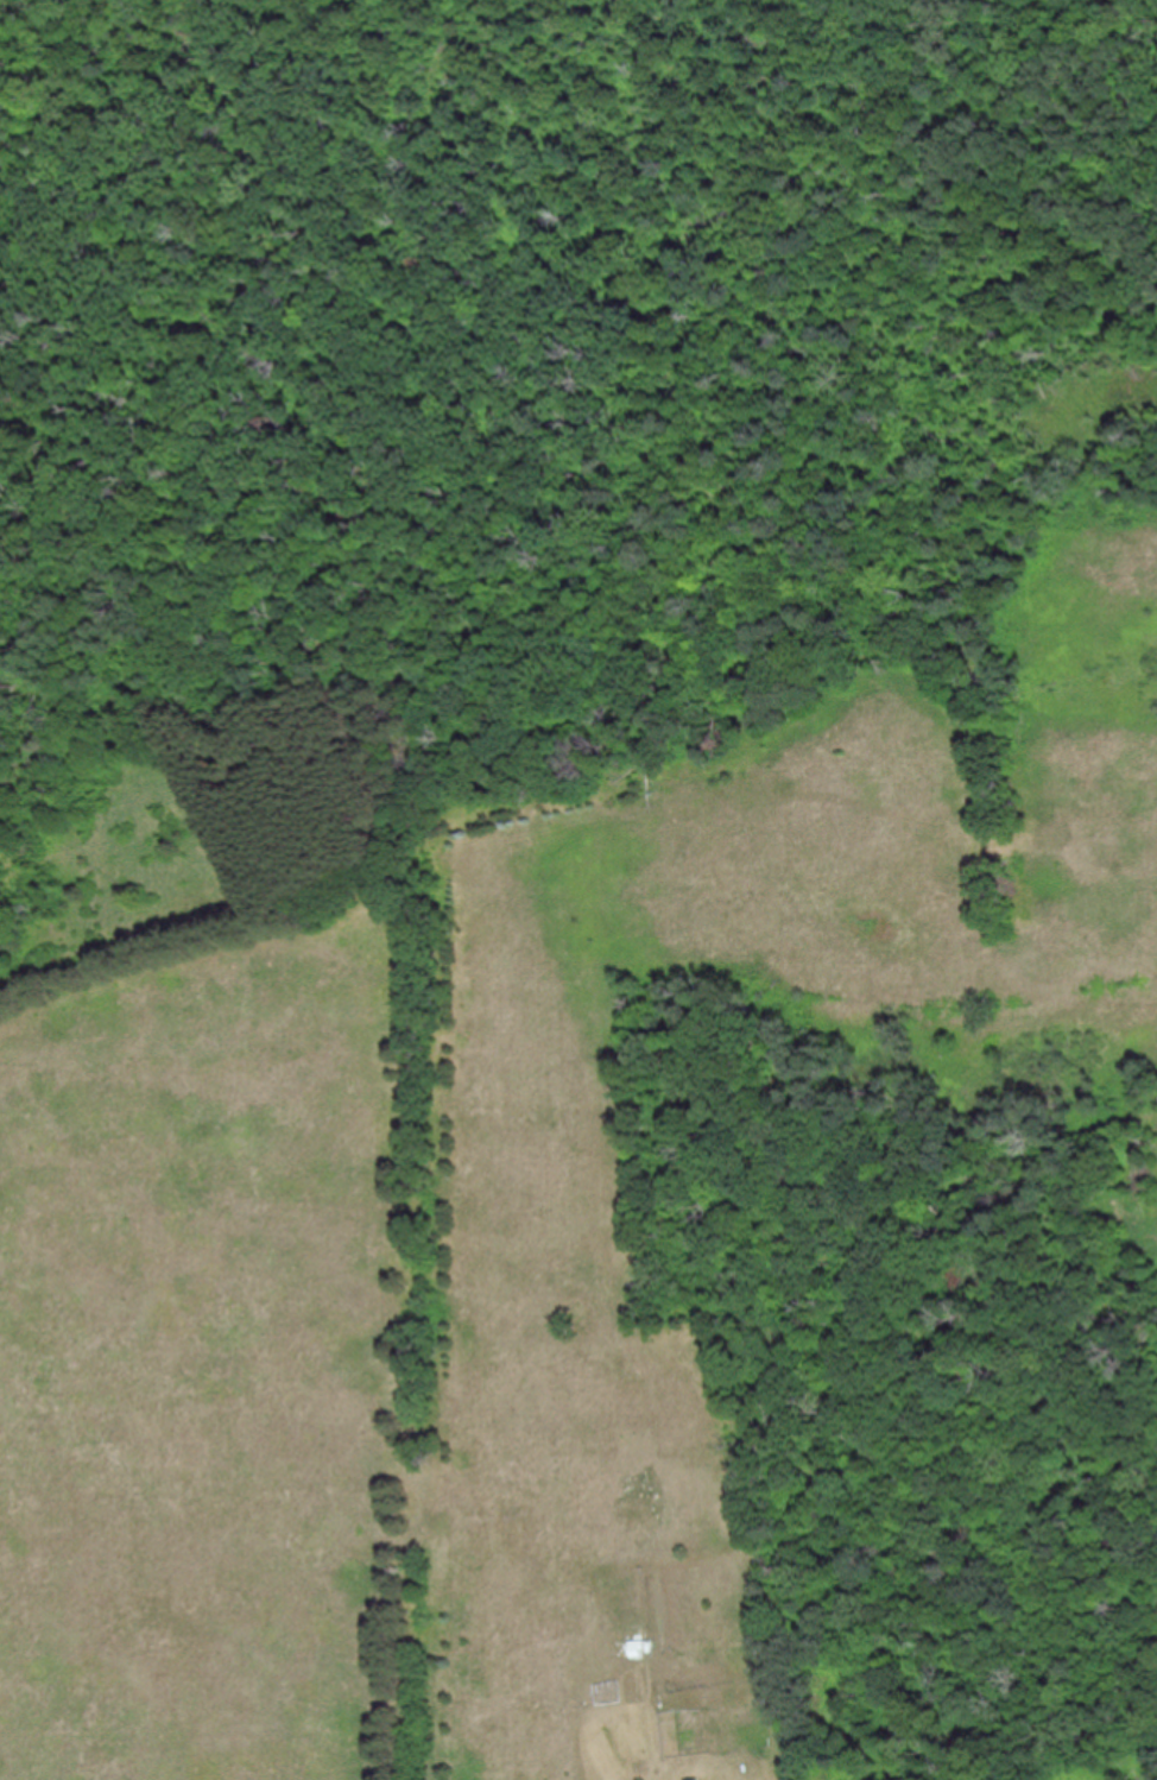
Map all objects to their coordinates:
park: (249, 837)
building: (632, 1650)

